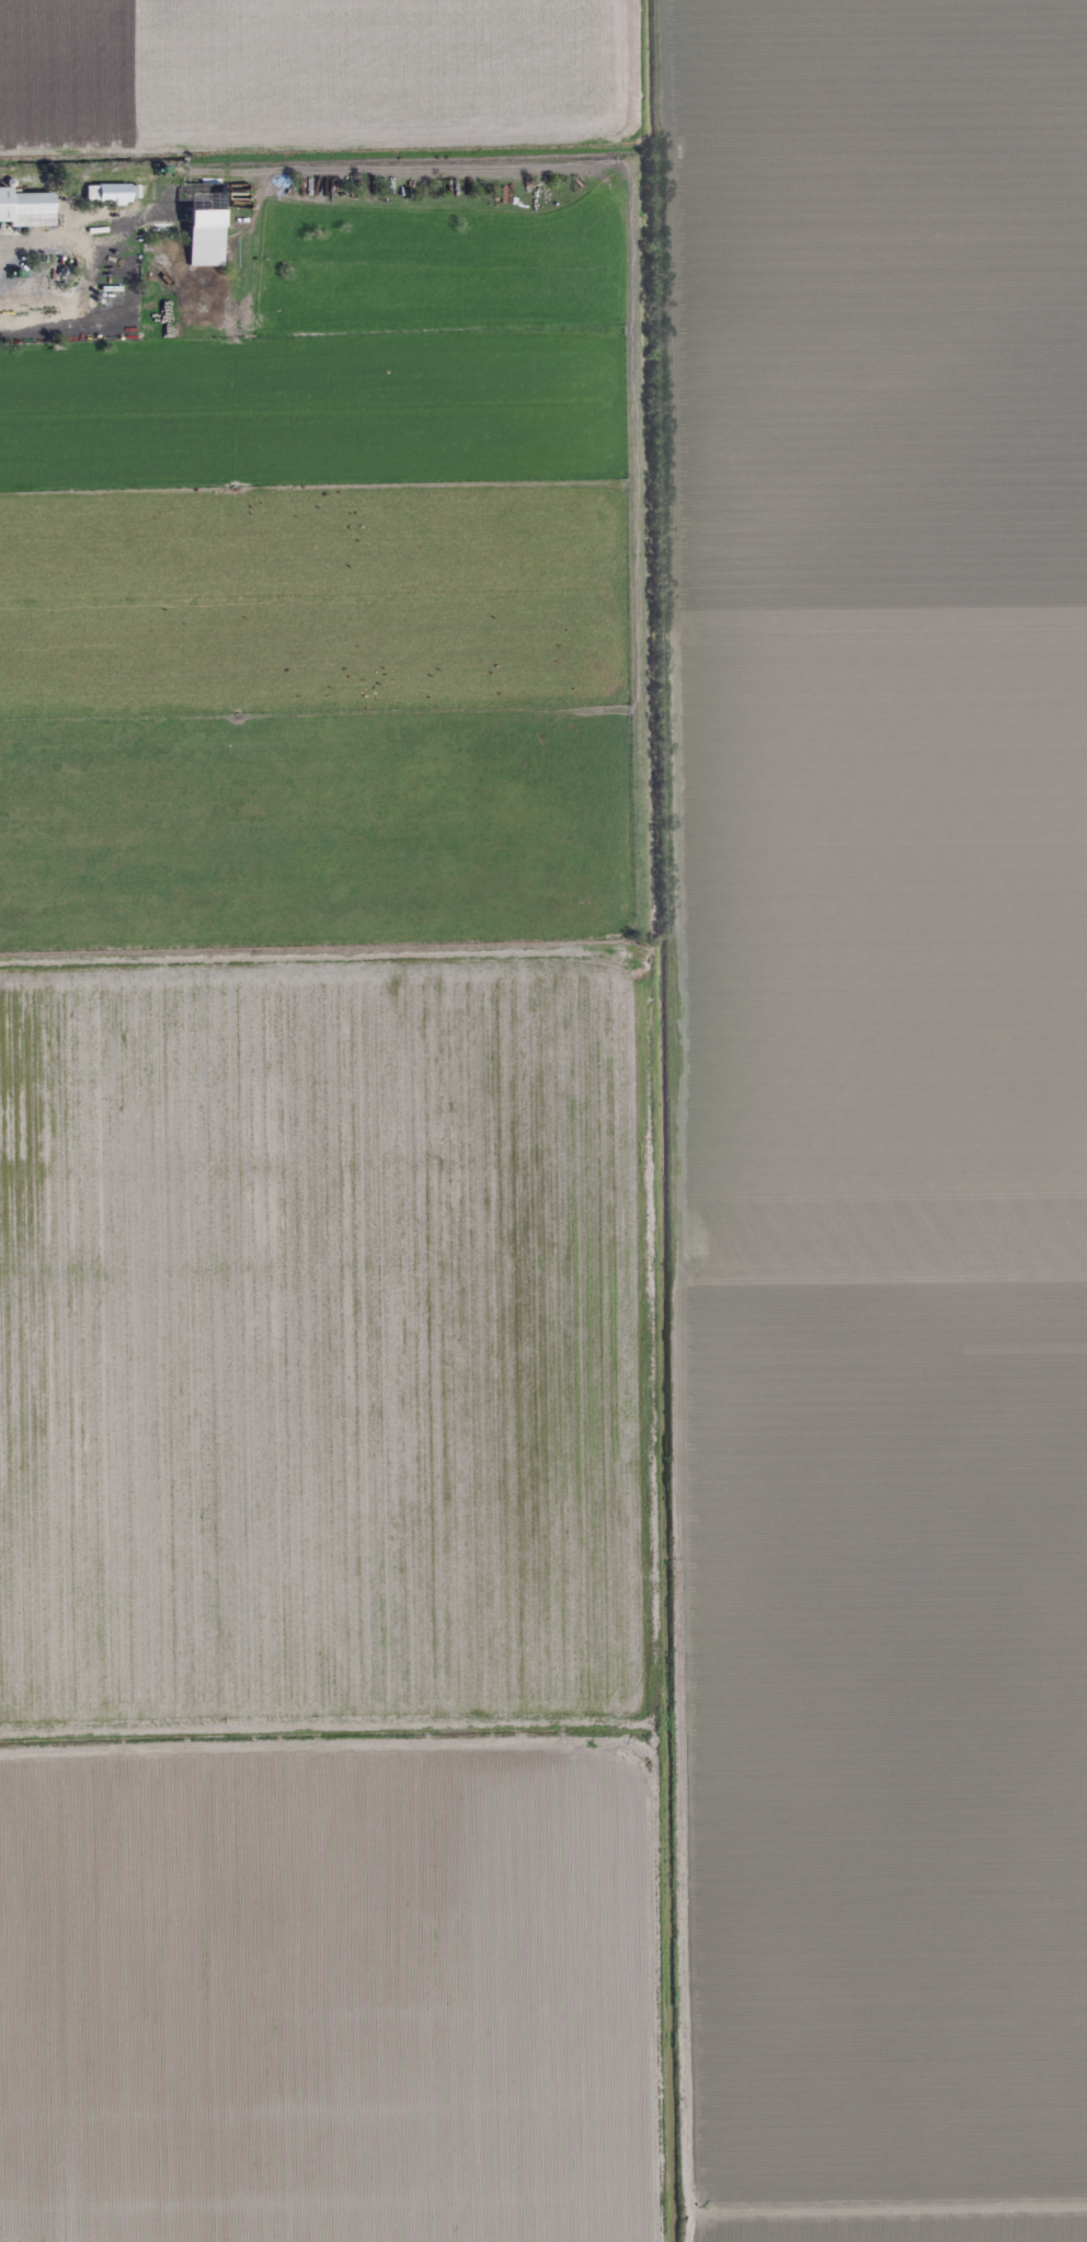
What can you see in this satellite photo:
building: (107, 194)
building: (204, 205)
building: (26, 208)

